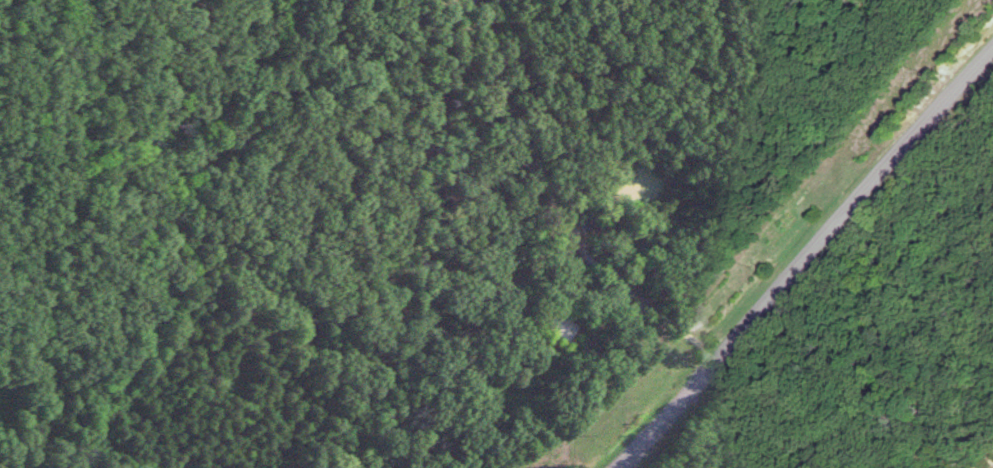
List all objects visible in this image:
road: (802, 254)
building: (556, 326)

